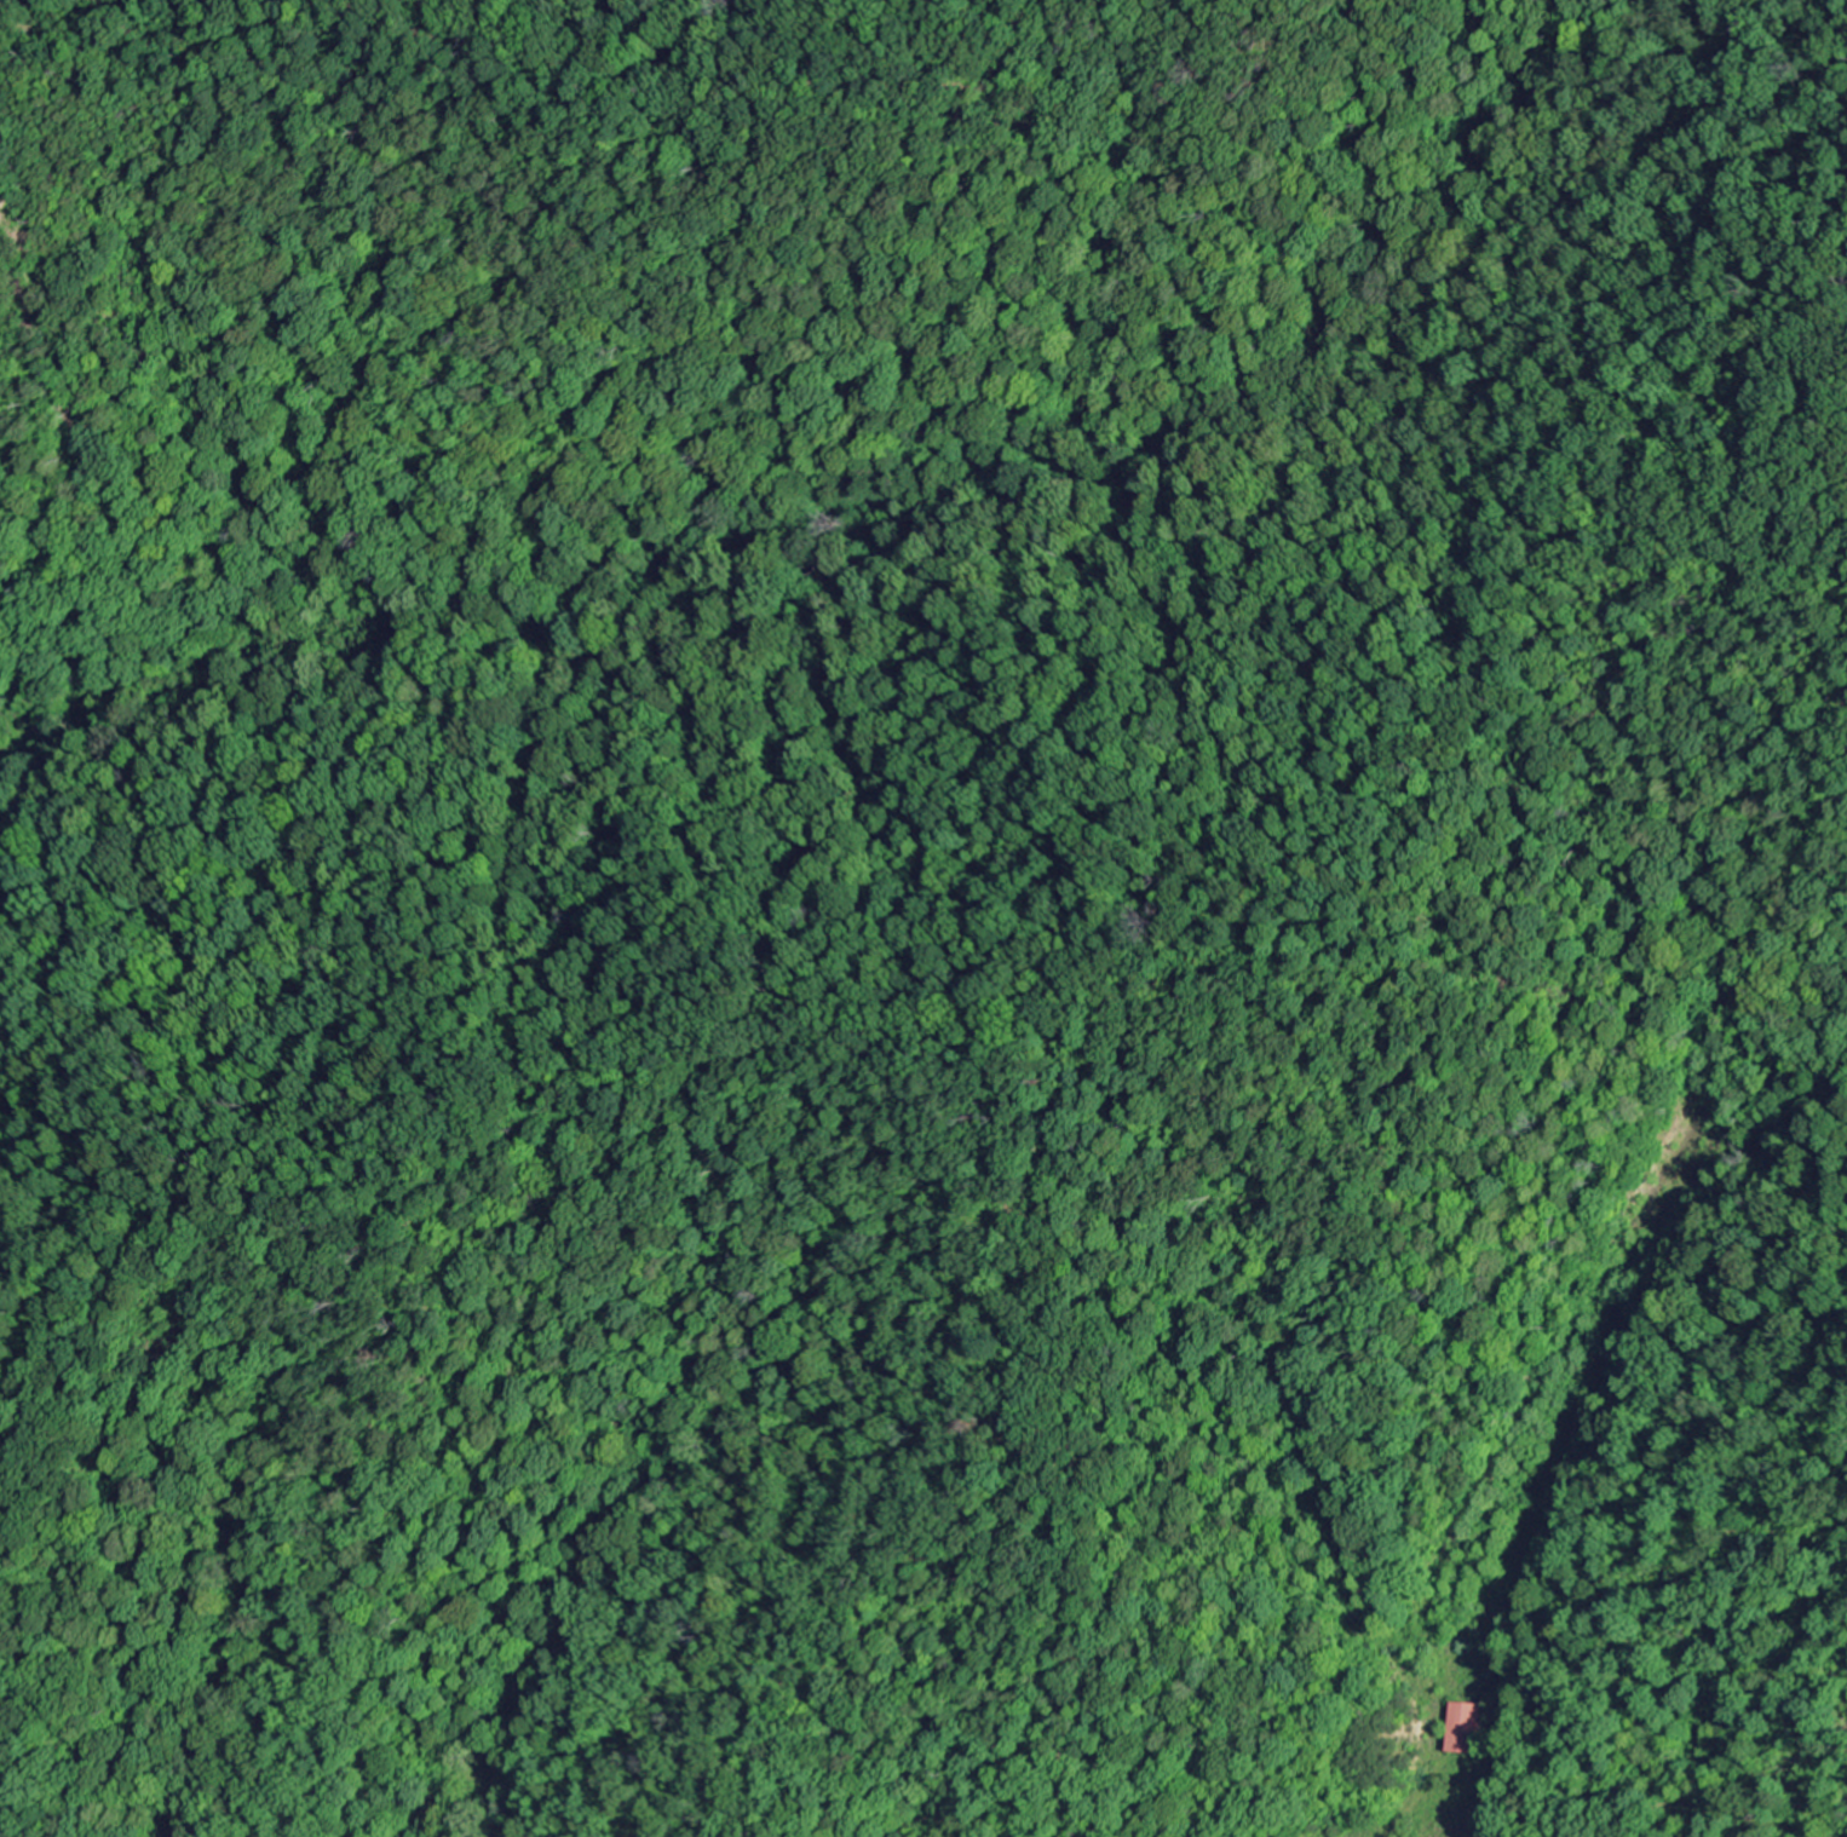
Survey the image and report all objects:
building: (1465, 1731)

